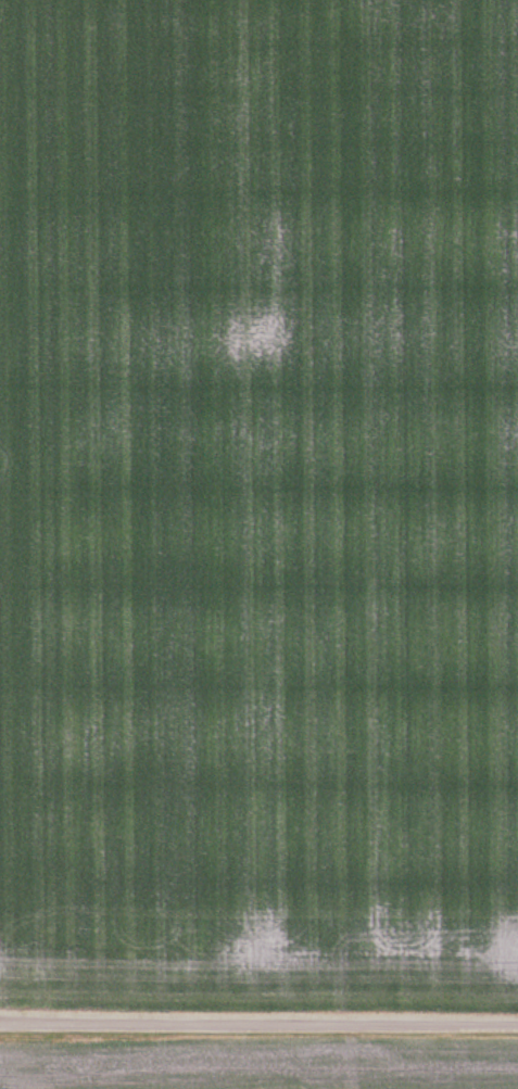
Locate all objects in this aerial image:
crop: (258, 501)
road: (258, 1023)
crop: (260, 1066)

